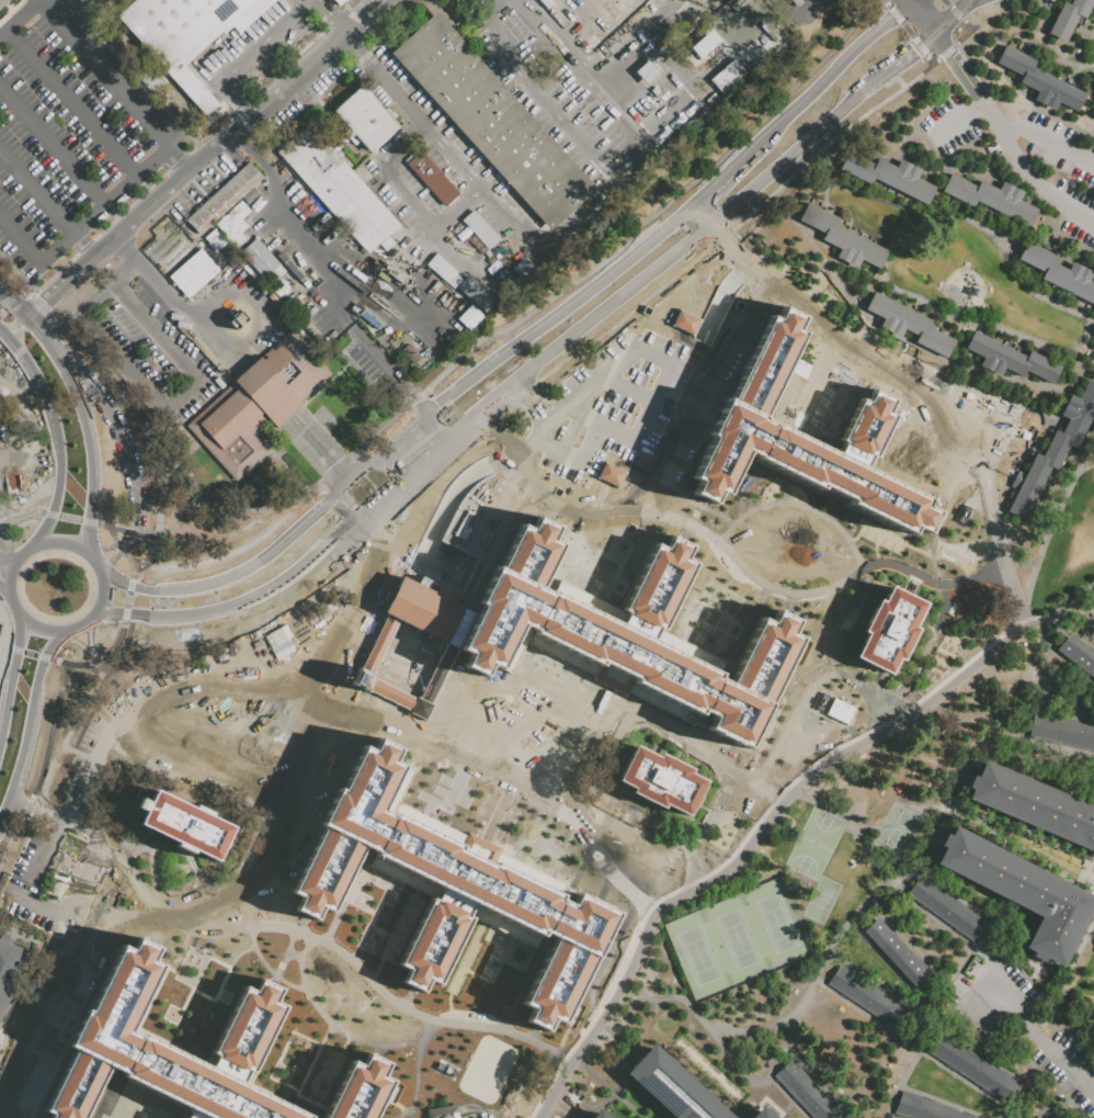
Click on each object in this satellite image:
road: (912, 1)
road: (914, 1)
building: (339, 2)
building: (797, 2)
road: (946, 2)
building: (4, 3)
road: (886, 3)
road: (964, 3)
road: (972, 3)
parking lot: (1044, 3)
road: (549, 8)
road: (788, 10)
road: (807, 10)
road: (955, 11)
road: (894, 14)
road: (18, 16)
road: (923, 16)
building: (1069, 18)
road: (331, 19)
road: (947, 19)
road: (966, 23)
road: (594, 24)
road: (907, 30)
building: (190, 35)
road: (962, 36)
road: (263, 42)
road: (941, 42)
building: (703, 43)
road: (563, 44)
road: (918, 44)
building: (770, 47)
road: (946, 52)
road: (1051, 56)
road: (931, 60)
road: (842, 63)
road: (896, 63)
road: (625, 65)
building: (649, 69)
building: (259, 74)
road: (385, 76)
building: (729, 76)
building: (1040, 80)
road: (114, 87)
building: (656, 91)
road: (978, 91)
road: (1023, 93)
road: (539, 95)
building: (711, 100)
building: (649, 101)
road: (70, 102)
road: (235, 103)
street lamp: (1029, 105)
building: (643, 106)
road: (960, 117)
building: (494, 122)
building: (676, 122)
building: (367, 123)
parking lot: (945, 125)
road: (827, 142)
road: (1016, 146)
road: (52, 147)
road: (451, 150)
road: (206, 157)
road: (783, 159)
road: (731, 166)
parking lot: (1053, 170)
building: (889, 176)
building: (434, 182)
building: (378, 184)
building: (338, 187)
road: (407, 191)
building: (991, 197)
building: (223, 199)
building: (251, 201)
road: (589, 203)
road: (47, 204)
road: (103, 206)
road: (833, 207)
road: (664, 210)
road: (673, 218)
road: (683, 227)
building: (236, 229)
road: (907, 231)
building: (481, 235)
road: (719, 236)
road: (692, 237)
road: (721, 238)
building: (214, 239)
building: (844, 239)
road: (20, 241)
road: (702, 246)
road: (128, 248)
road: (717, 258)
building: (263, 264)
road: (614, 266)
building: (522, 268)
road: (15, 272)
building: (1060, 272)
road: (738, 273)
building: (445, 274)
building: (195, 276)
road: (641, 279)
road: (752, 284)
road: (109, 289)
road: (332, 289)
building: (281, 291)
road: (718, 298)
road: (36, 304)
road: (189, 313)
road: (624, 315)
building: (468, 316)
building: (239, 324)
building: (909, 324)
road: (159, 332)
road: (35, 336)
road: (1083, 336)
road: (27, 342)
street lamp: (1083, 343)
road: (16, 352)
road: (873, 352)
building: (412, 357)
road: (645, 359)
road: (455, 360)
building: (1011, 360)
road: (480, 369)
road: (62, 371)
road: (134, 381)
road: (509, 382)
road: (886, 382)
road: (794, 385)
road: (522, 393)
road: (579, 395)
road: (617, 395)
road: (685, 396)
road: (44, 398)
road: (528, 399)
parking lot: (607, 405)
building: (259, 406)
building: (638, 419)
road: (629, 440)
building: (808, 440)
road: (764, 441)
road: (387, 445)
road: (955, 447)
building: (1056, 449)
road: (571, 459)
road: (329, 461)
road: (434, 466)
road: (406, 468)
road: (156, 483)
road: (742, 483)
road: (320, 489)
road: (329, 499)
road: (795, 502)
road: (702, 507)
road: (89, 510)
road: (50, 511)
road: (340, 511)
road: (50, 515)
road: (21, 516)
road: (68, 518)
road: (179, 519)
road: (435, 519)
road: (88, 521)
road: (349, 521)
road: (297, 526)
road: (1048, 529)
road: (132, 532)
road: (500, 532)
road: (127, 539)
road: (129, 542)
road: (66, 543)
road: (998, 544)
road: (118, 546)
road: (373, 546)
road: (563, 549)
road: (102, 550)
road: (22, 553)
road: (228, 553)
road: (730, 555)
road: (9, 558)
road: (110, 561)
road: (95, 565)
road: (173, 583)
road: (129, 584)
road: (275, 584)
road: (3, 586)
road: (1093, 591)
road: (101, 595)
road: (381, 596)
road: (8, 597)
road: (126, 598)
road: (537, 605)
road: (123, 612)
road: (126, 612)
road: (250, 622)
road: (943, 624)
road: (80, 626)
road: (39, 631)
building: (887, 631)
road: (1072, 632)
building: (630, 633)
building: (303, 635)
road: (522, 636)
road: (90, 640)
road: (4, 645)
road: (79, 645)
road: (15, 650)
road: (18, 650)
road: (30, 653)
road: (1059, 655)
building: (1079, 655)
road: (43, 656)
road: (43, 657)
road: (98, 658)
road: (542, 665)
road: (235, 692)
road: (5, 707)
road: (1008, 707)
building: (837, 710)
road: (310, 713)
road: (27, 720)
road: (49, 732)
building: (1060, 732)
road: (231, 733)
road: (675, 733)
road: (1025, 742)
road: (455, 749)
road: (920, 754)
road: (408, 772)
road: (14, 776)
road: (964, 782)
building: (660, 783)
road: (47, 788)
road: (66, 795)
building: (1035, 803)
road: (4, 806)
road: (26, 806)
road: (33, 809)
road: (293, 813)
building: (187, 815)
road: (774, 816)
road: (654, 820)
road: (113, 823)
road: (380, 826)
road: (864, 826)
park: (897, 826)
road: (850, 828)
road: (12, 836)
road: (1006, 837)
road: (936, 839)
road: (1035, 839)
park: (814, 842)
road: (179, 852)
road: (89, 859)
road: (225, 861)
road: (1083, 867)
building: (458, 885)
road: (719, 889)
building: (1023, 890)
road: (349, 892)
park: (820, 900)
road: (965, 903)
building: (948, 908)
road: (38, 910)
road: (853, 913)
road: (157, 927)
road: (947, 927)
park: (736, 939)
road: (904, 942)
road: (334, 944)
road: (287, 945)
building: (896, 952)
road: (259, 958)
road: (887, 961)
building: (9, 968)
road: (1065, 976)
road: (166, 981)
road: (877, 982)
road: (1030, 982)
road: (287, 983)
road: (60, 986)
parking lot: (990, 993)
building: (869, 997)
road: (62, 1020)
road: (1073, 1027)
road: (337, 1028)
road: (1036, 1035)
road: (956, 1036)
road: (927, 1041)
road: (1075, 1042)
road: (913, 1046)
building: (174, 1047)
road: (723, 1047)
road: (127, 1051)
parking lot: (1075, 1053)
road: (636, 1057)
road: (1022, 1058)
street lamp: (904, 1064)
parking lot: (1046, 1065)
park: (487, 1068)
road: (726, 1068)
building: (976, 1070)
road: (622, 1073)
road: (409, 1081)
road: (822, 1083)
road: (611, 1088)
building: (674, 1088)
building: (361, 1091)
road: (732, 1091)
road: (105, 1093)
building: (807, 1093)
road: (1058, 1095)
road: (785, 1096)
parking lot: (1081, 1100)
road: (945, 1102)
road: (139, 1108)
road: (562, 1108)
road: (786, 1108)
building: (926, 1108)
building: (442, 1111)
road: (151, 1114)
building: (763, 1116)
road: (890, 1116)
building: (601, 1117)

